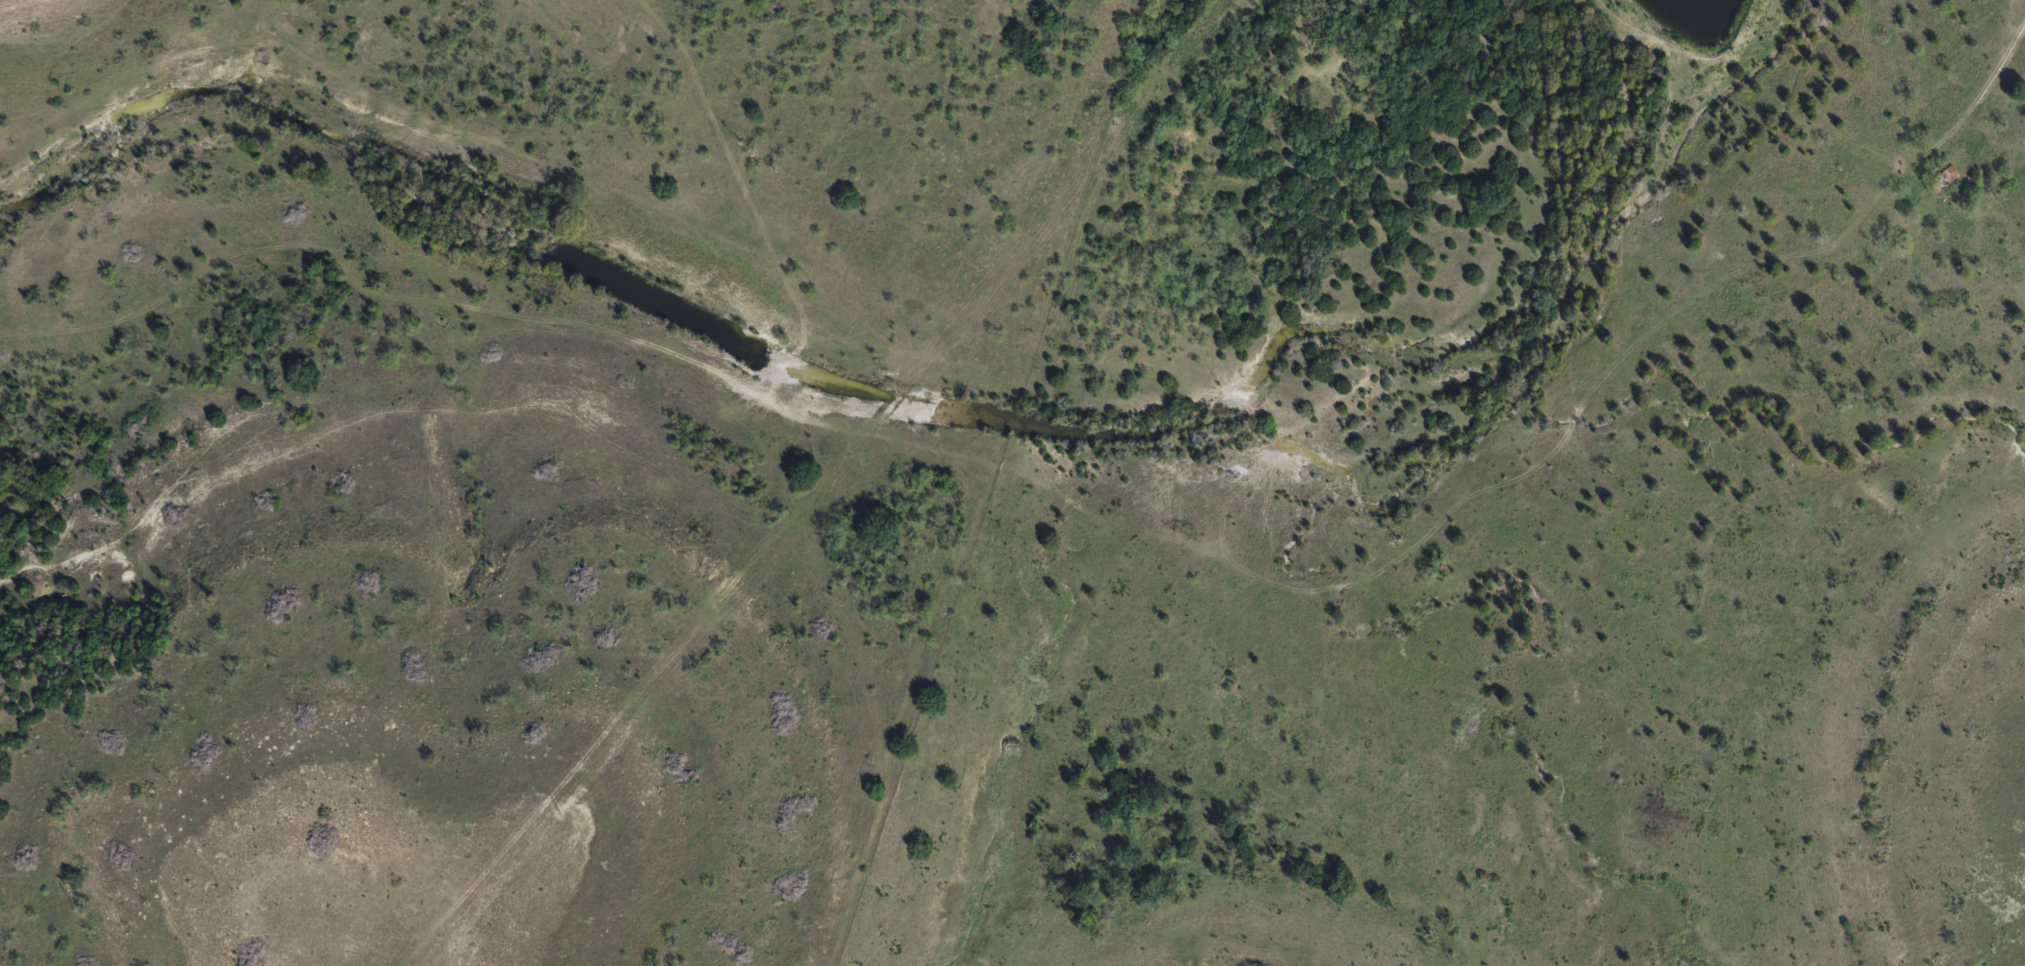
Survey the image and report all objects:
building: (1947, 180)

